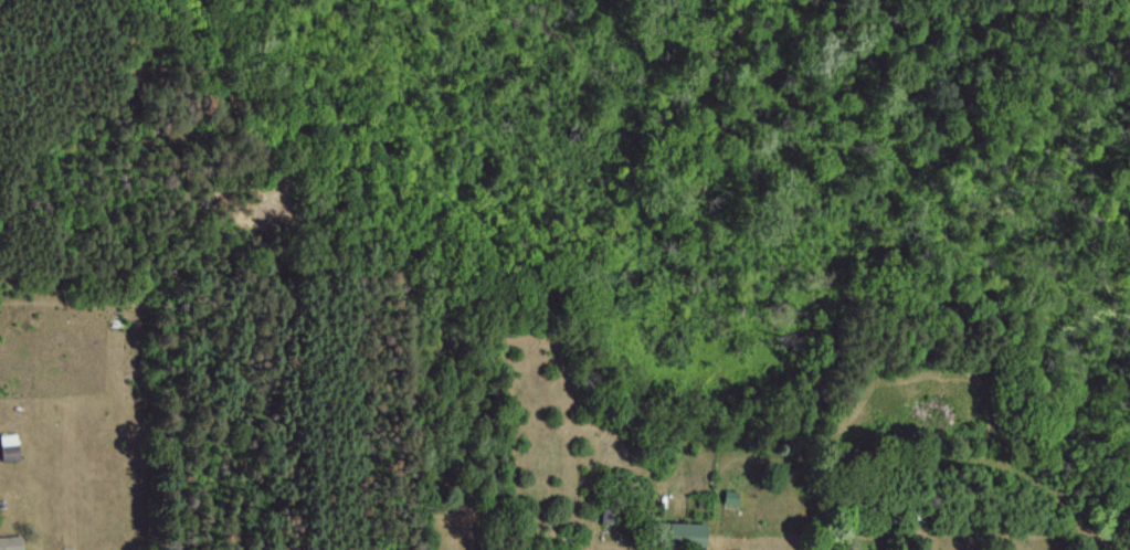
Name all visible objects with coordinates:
building: (8, 446)
building: (682, 533)

